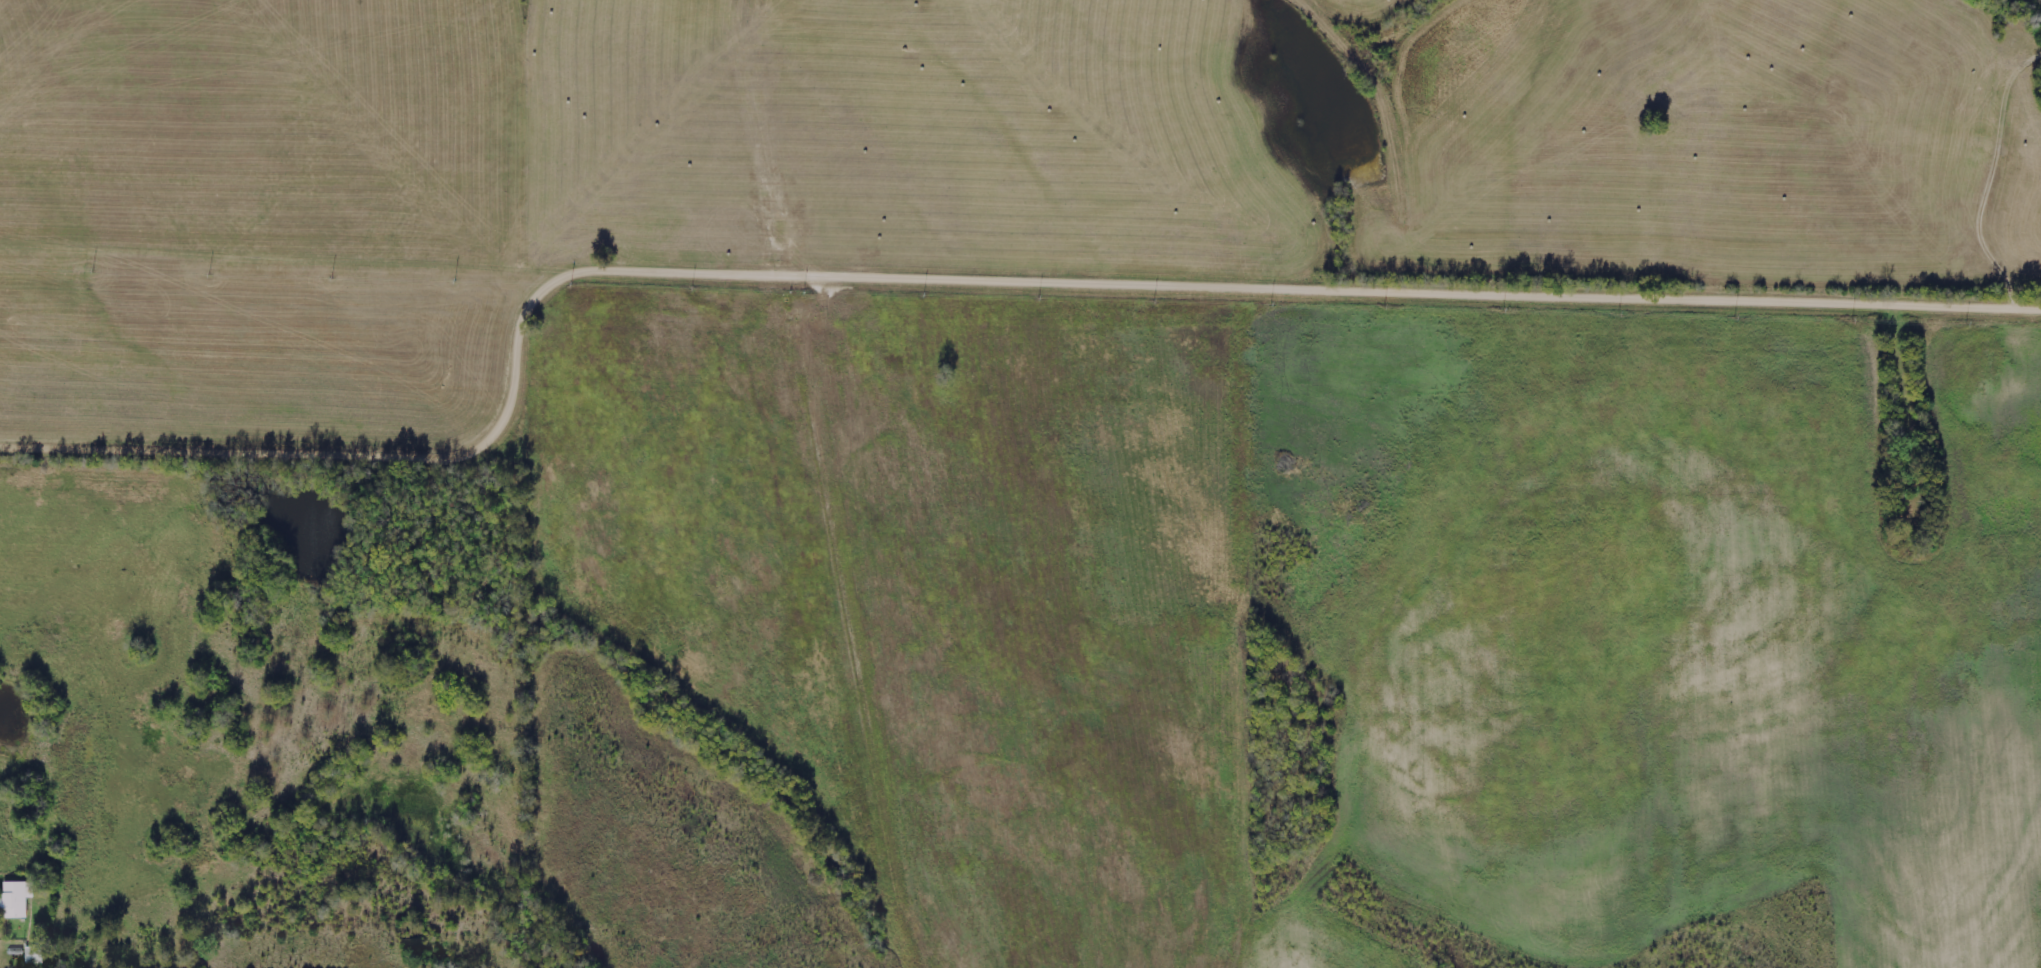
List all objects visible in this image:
road: (961, 277)
park: (1898, 437)
building: (18, 900)
building: (36, 956)

